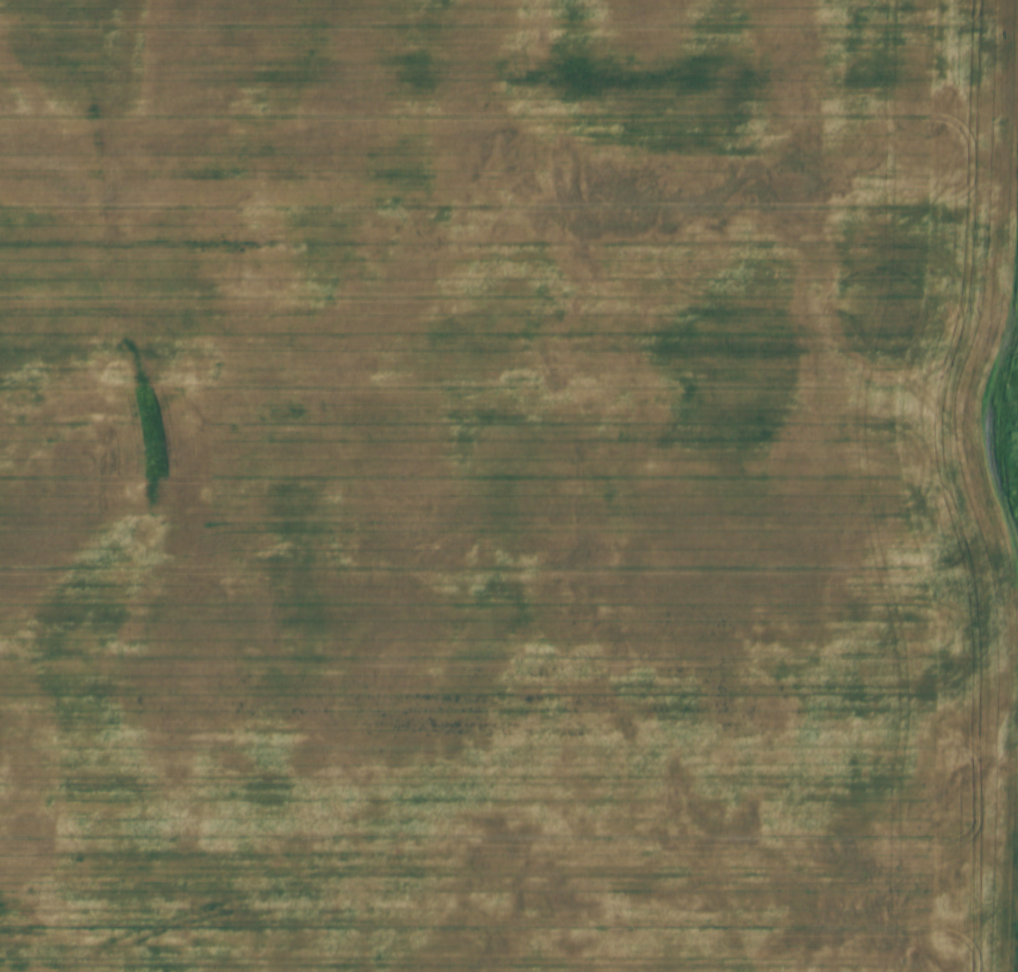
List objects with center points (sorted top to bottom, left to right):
road: (977, 418)

